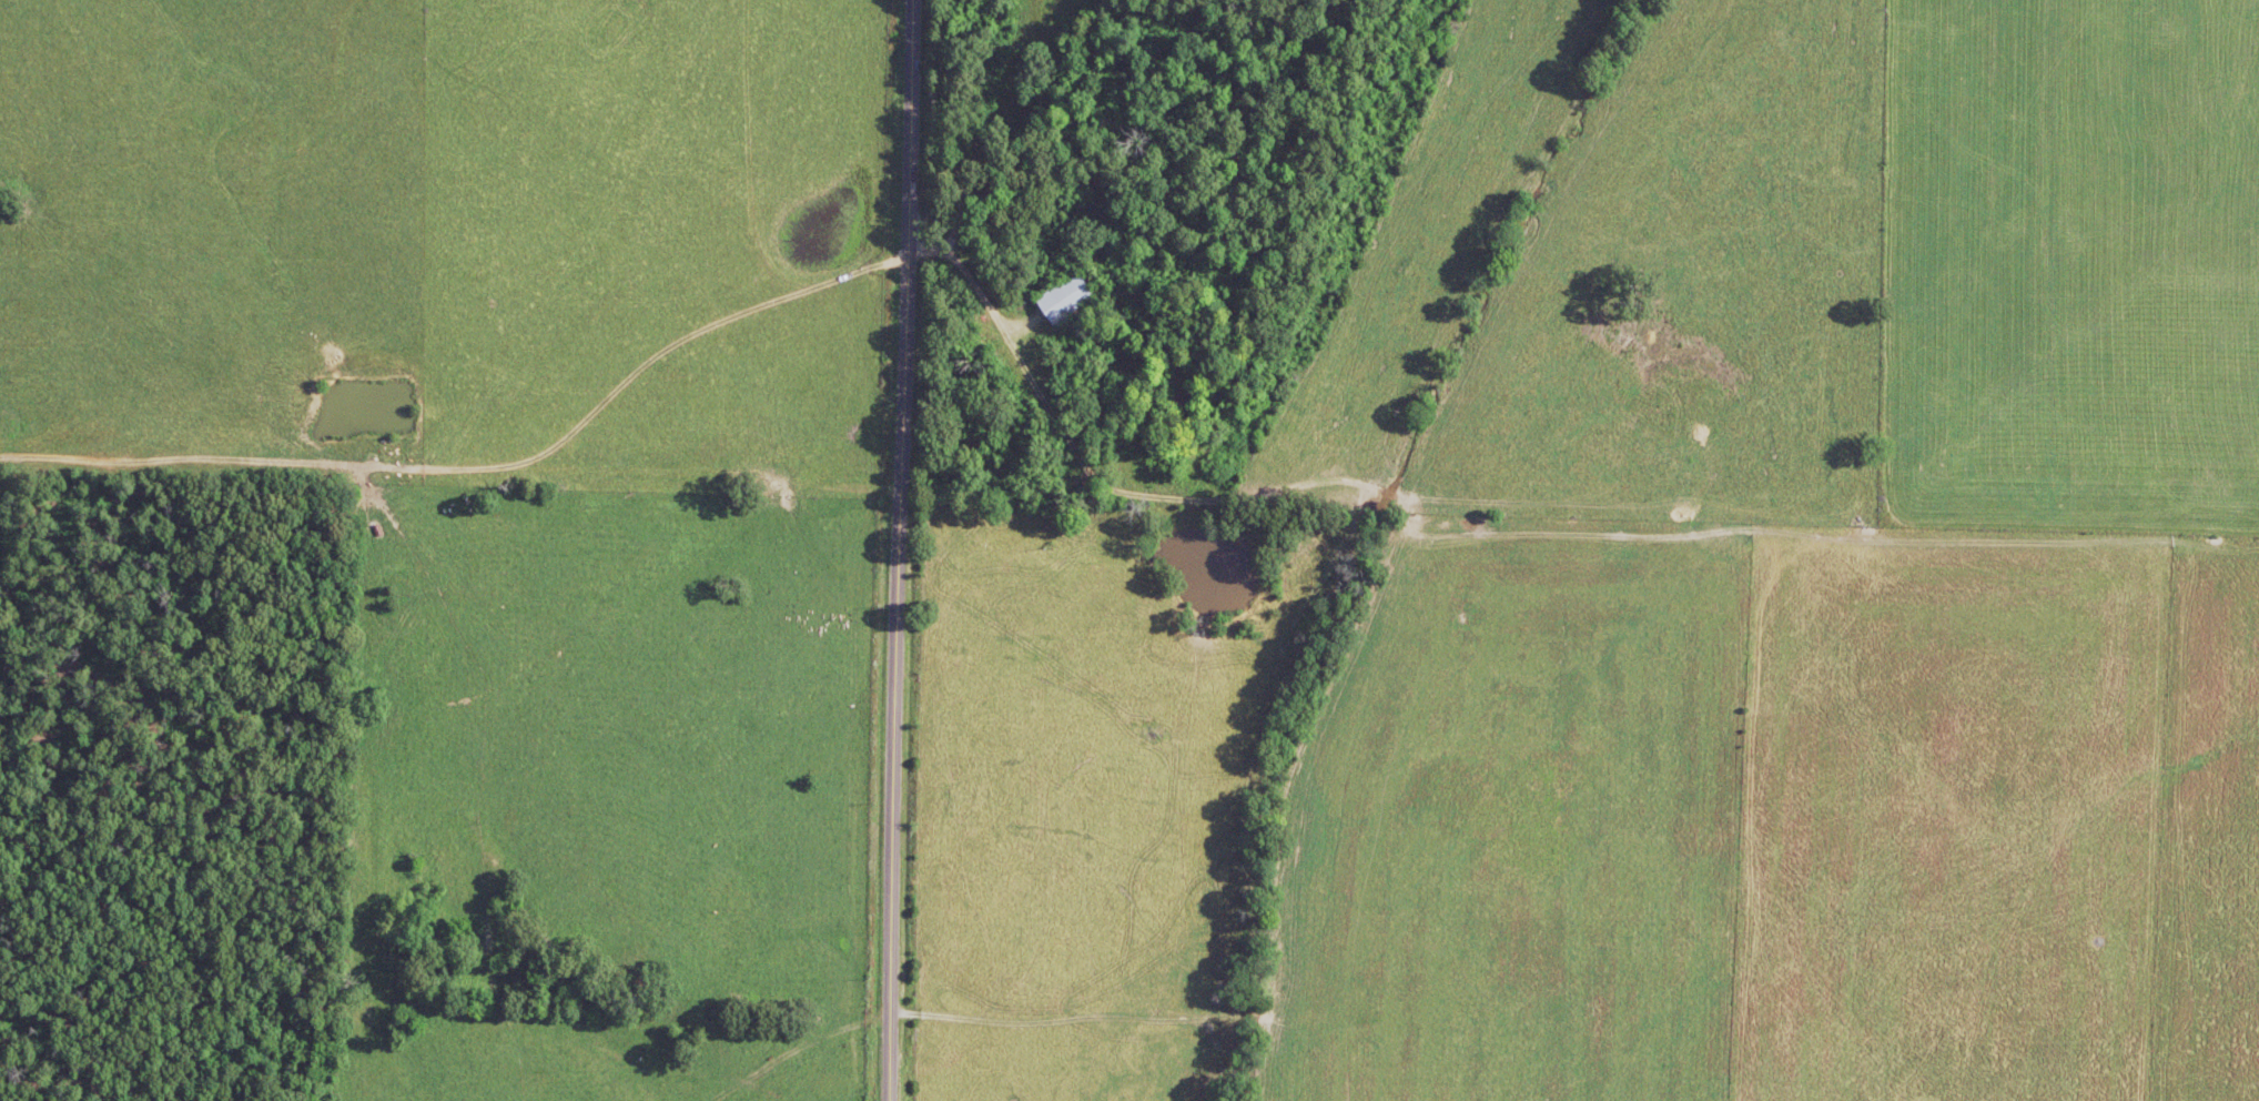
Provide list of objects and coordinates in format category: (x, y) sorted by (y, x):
building: (1063, 303)
road: (896, 549)

